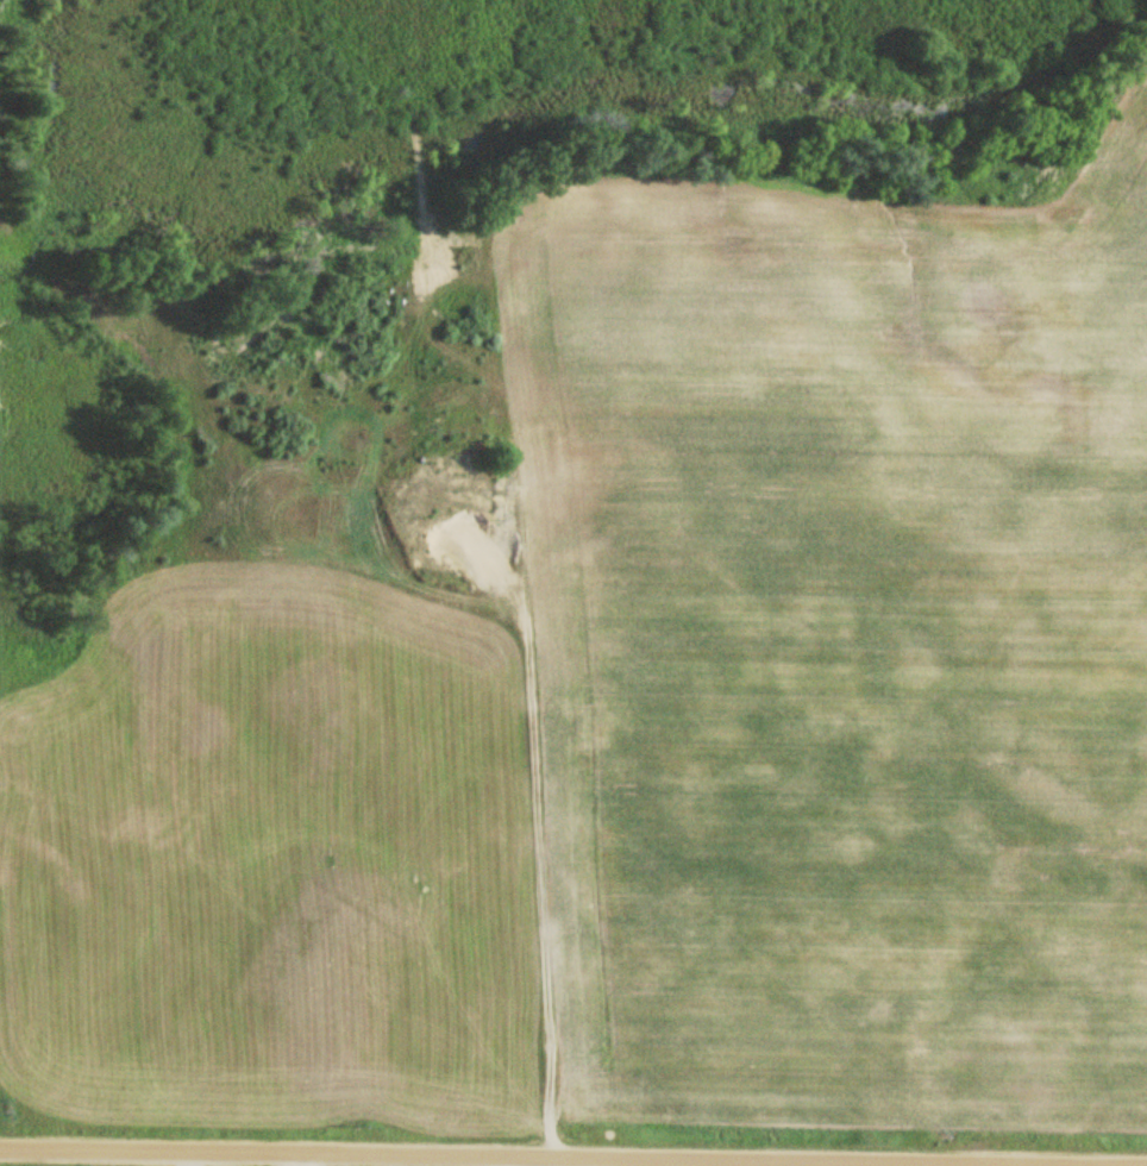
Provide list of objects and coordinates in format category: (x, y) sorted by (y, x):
road: (1076, 719)
road: (509, 952)
road: (534, 1160)

